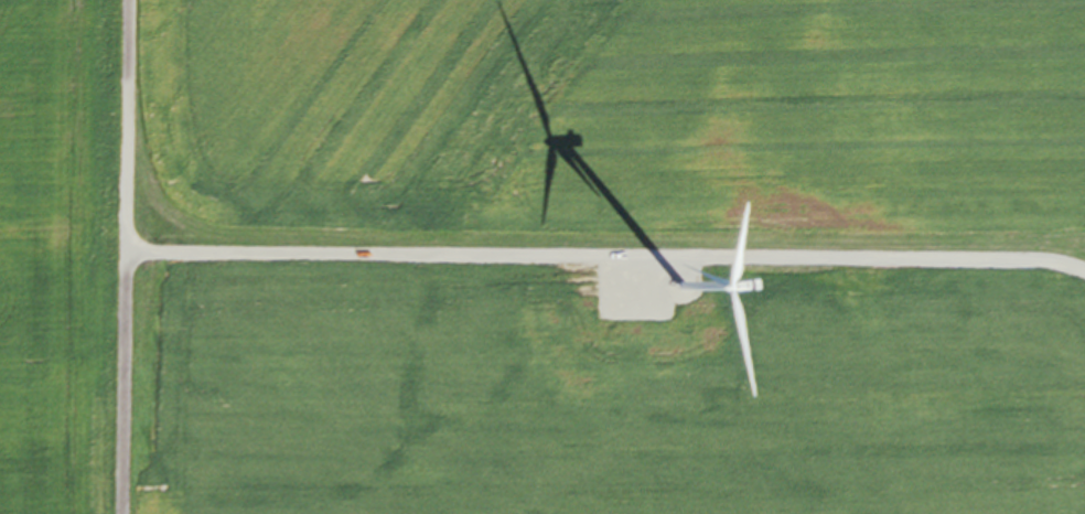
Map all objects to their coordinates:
road: (126, 257)
road: (606, 263)
wind turbine: (676, 290)
building: (621, 339)
building: (621, 350)

